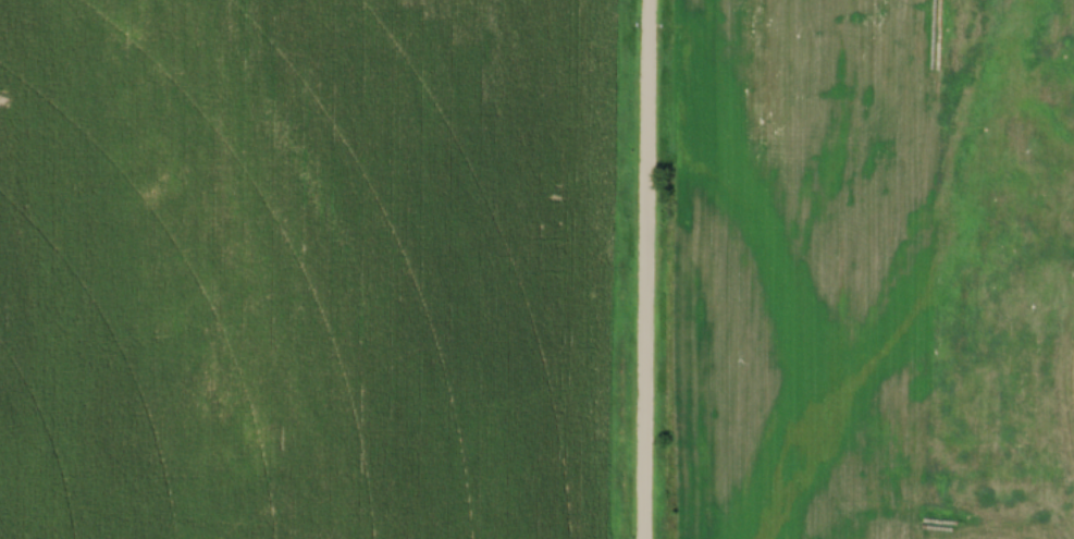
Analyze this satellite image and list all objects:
road: (647, 269)

